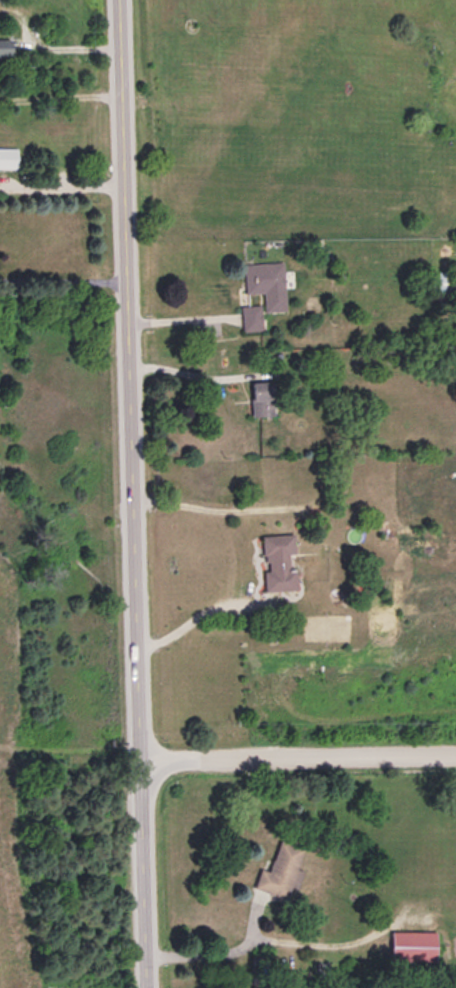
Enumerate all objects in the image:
road: (66, 184)
building: (264, 283)
building: (249, 318)
building: (258, 398)
road: (134, 494)
building: (276, 563)
road: (298, 758)
park: (53, 824)
building: (279, 871)
road: (274, 938)
building: (410, 947)

